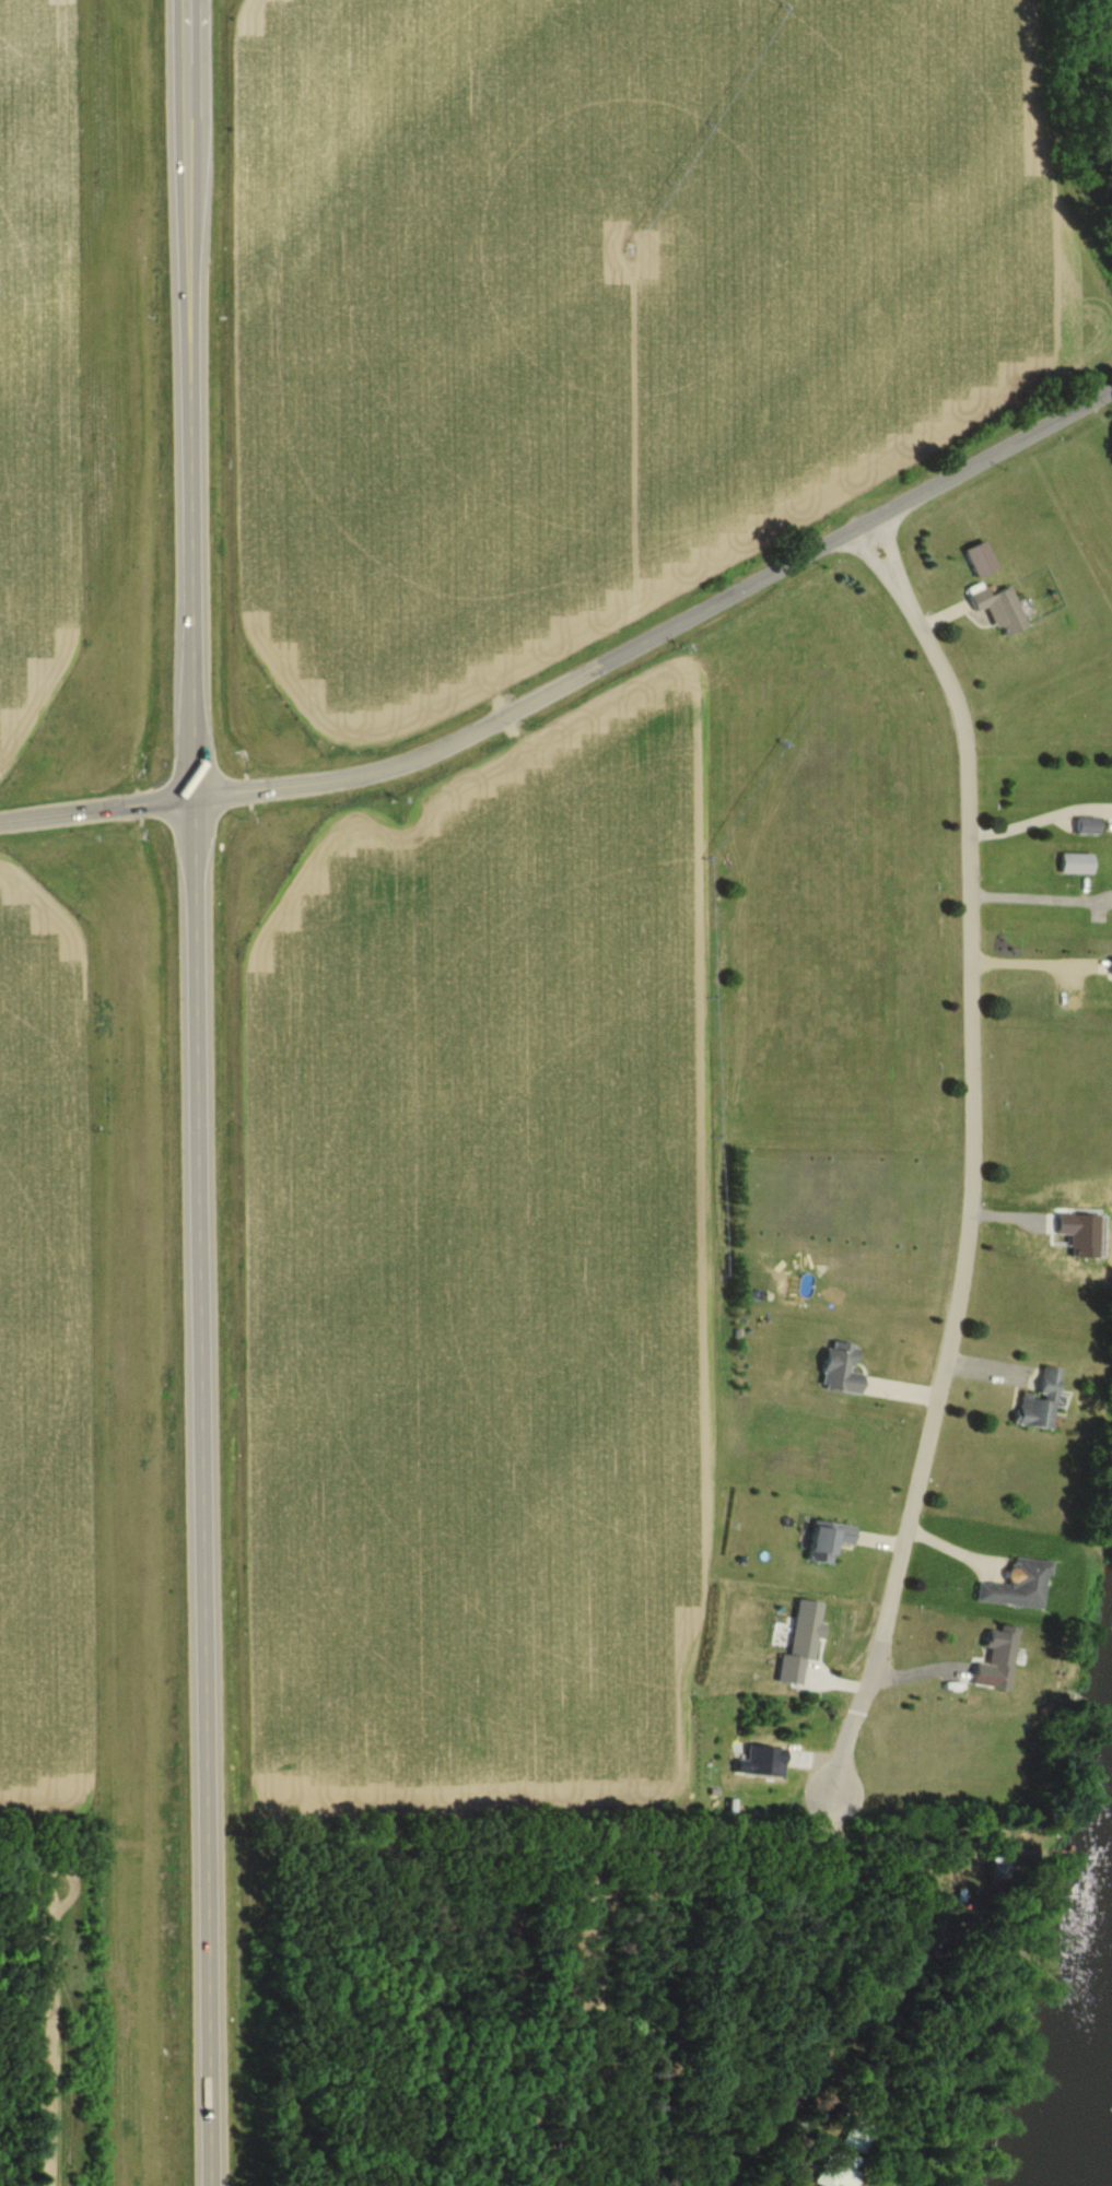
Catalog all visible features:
crop: (622, 301)
crop: (46, 367)
road: (769, 580)
building: (1000, 611)
road: (213, 800)
road: (1040, 818)
road: (1041, 897)
road: (1032, 962)
road: (202, 1092)
road: (972, 1104)
crop: (495, 1279)
crop: (49, 1362)
building: (841, 1368)
building: (1039, 1401)
building: (828, 1541)
building: (1018, 1585)
building: (1000, 1655)
road: (655, 1852)
road: (54, 1857)
road: (393, 2020)
building: (852, 2047)
river: (1101, 2161)
building: (839, 2173)

